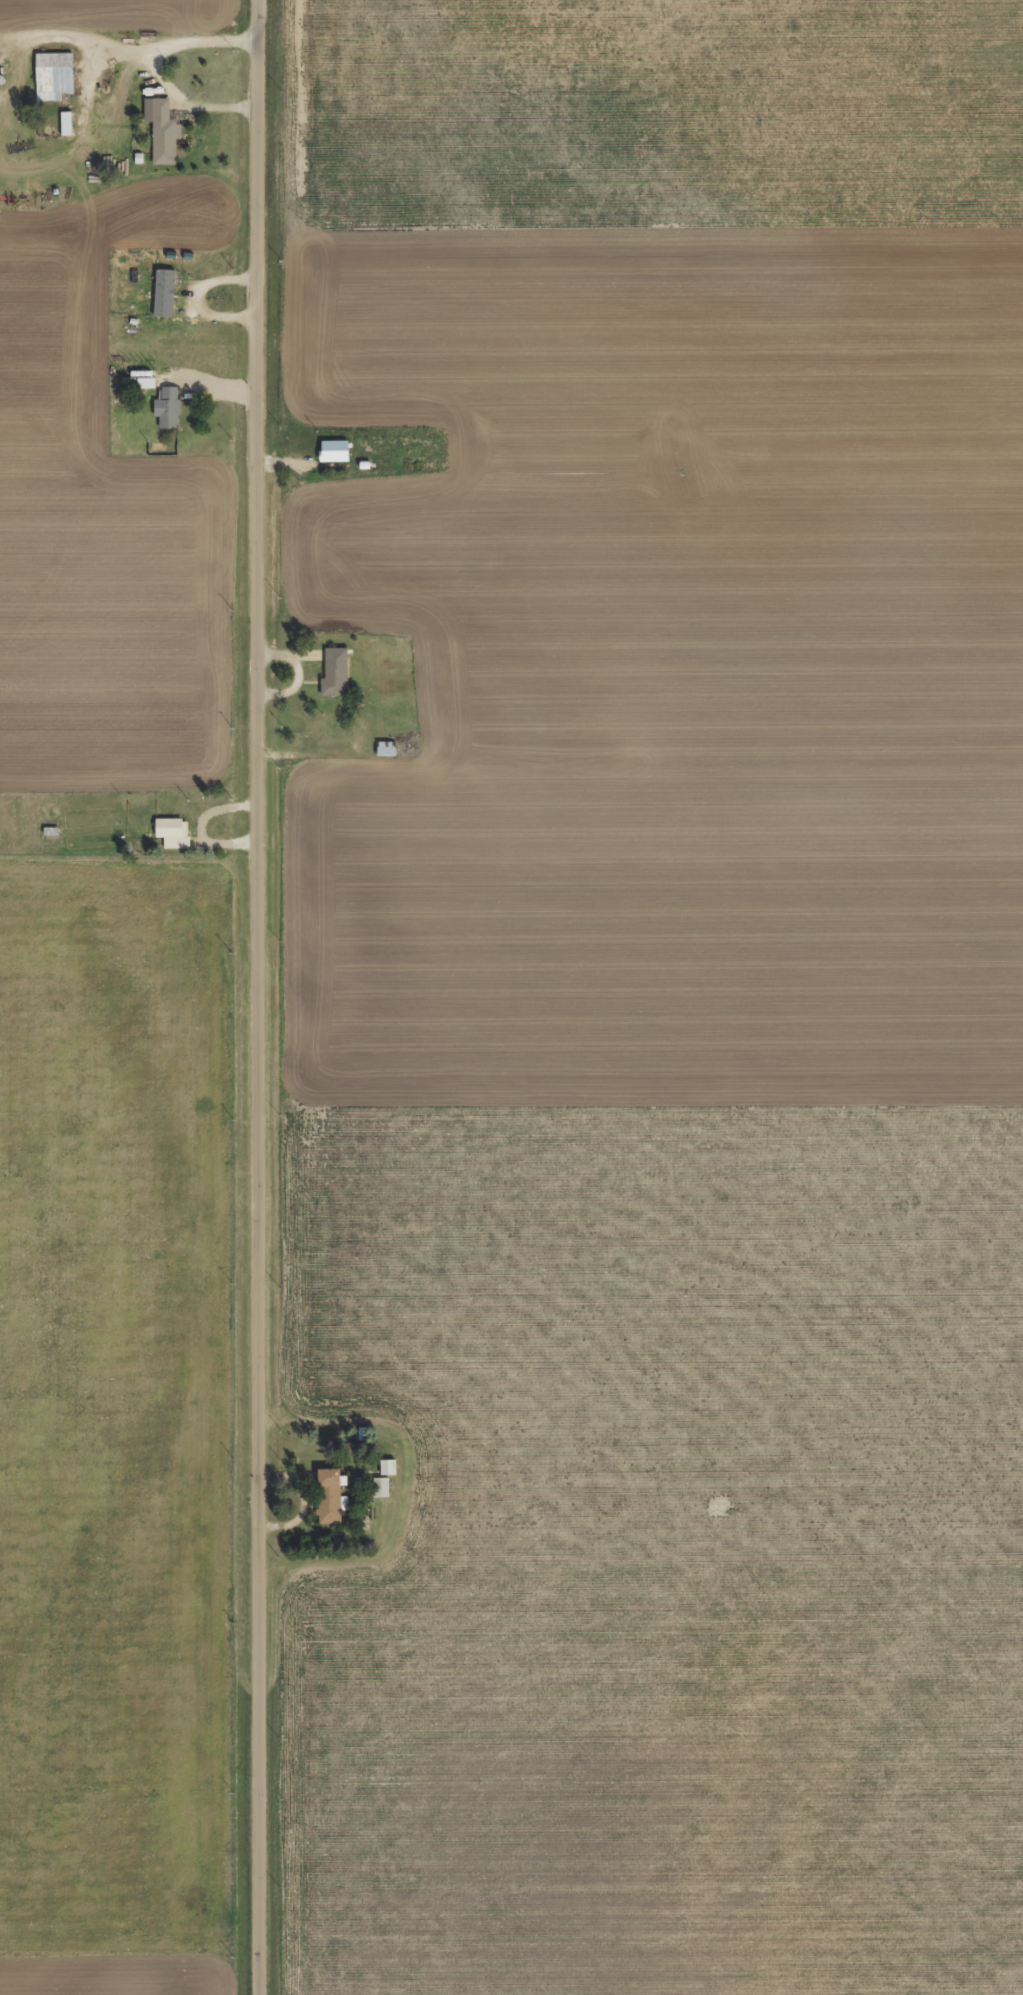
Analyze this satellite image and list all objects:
building: (50, 83)
building: (62, 131)
building: (159, 139)
building: (160, 301)
building: (141, 387)
building: (164, 415)
building: (329, 458)
building: (331, 679)
building: (383, 756)
building: (169, 840)
road: (266, 997)
building: (385, 1475)
building: (377, 1494)
building: (327, 1503)

